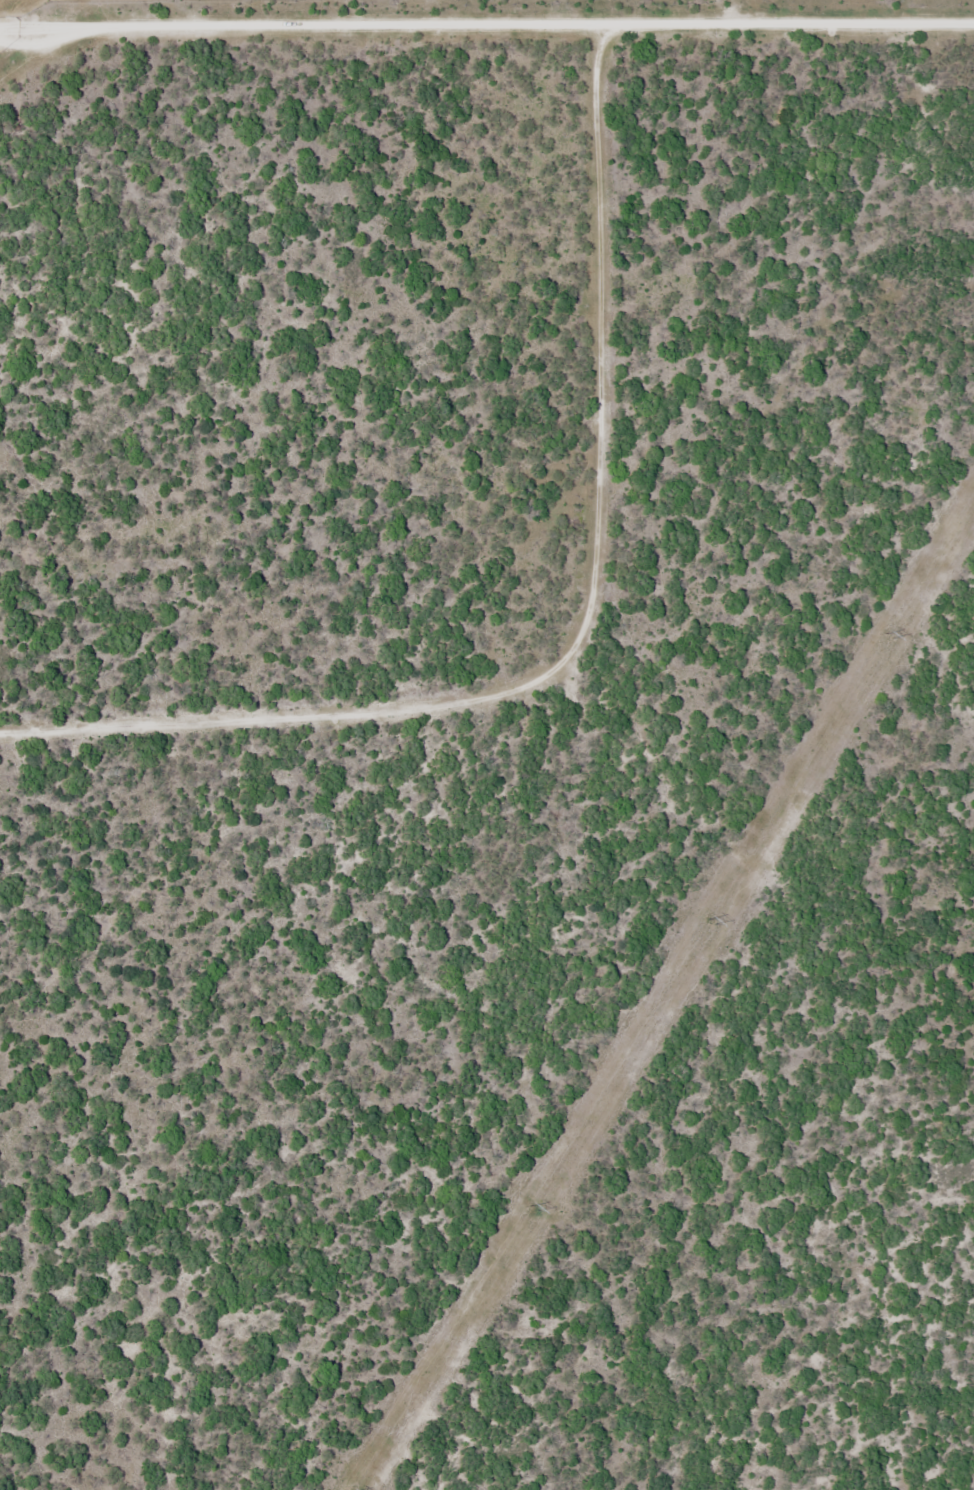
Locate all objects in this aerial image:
road: (487, 21)
road: (574, 629)
power tower: (887, 636)
power tower: (709, 920)
power tower: (531, 1207)

